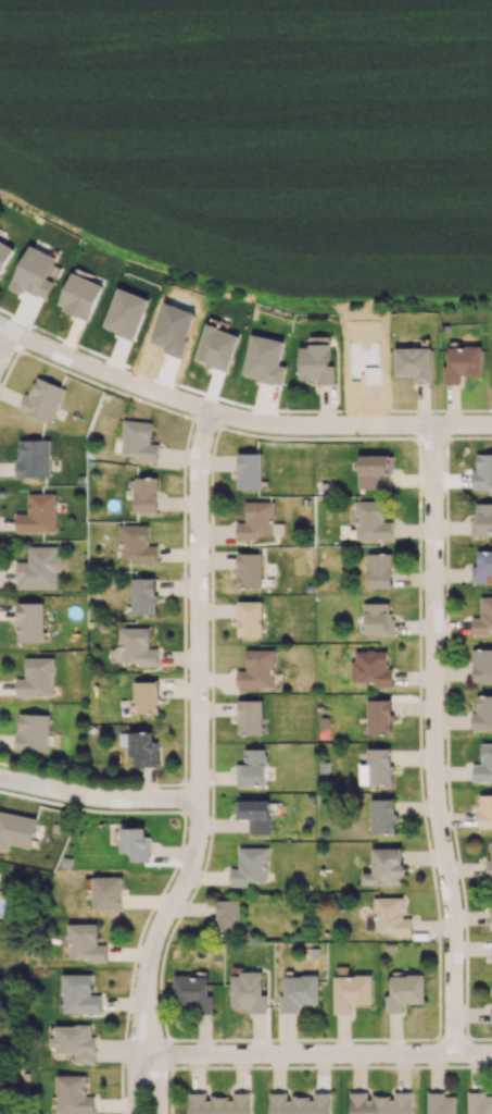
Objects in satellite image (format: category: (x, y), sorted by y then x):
building: (4, 253)
building: (34, 272)
building: (79, 295)
building: (129, 308)
building: (216, 347)
road: (9, 348)
building: (264, 359)
building: (316, 361)
building: (414, 363)
building: (462, 363)
building: (42, 399)
road: (236, 420)
building: (138, 440)
building: (34, 458)
building: (374, 469)
building: (249, 471)
building: (482, 472)
building: (146, 494)
building: (38, 513)
building: (481, 519)
building: (255, 520)
building: (370, 521)
building: (136, 543)
building: (482, 567)
building: (38, 568)
building: (249, 569)
building: (379, 570)
building: (143, 595)
building: (249, 618)
building: (376, 618)
building: (483, 618)
building: (30, 621)
building: (136, 646)
building: (482, 665)
building: (371, 667)
building: (256, 669)
building: (36, 678)
building: (146, 696)
building: (482, 713)
building: (379, 716)
building: (250, 717)
building: (33, 731)
road: (198, 738)
road: (431, 740)
building: (140, 747)
building: (483, 765)
building: (379, 766)
building: (252, 768)
road: (97, 799)
building: (485, 810)
building: (254, 814)
building: (382, 815)
building: (16, 830)
building: (135, 842)
building: (250, 866)
building: (384, 867)
building: (106, 892)
building: (491, 915)
building: (391, 916)
building: (228, 917)
building: (86, 942)
building: (250, 991)
building: (299, 991)
building: (351, 991)
building: (404, 991)
building: (192, 992)
building: (79, 994)
building: (491, 1015)
building: (75, 1042)
road: (319, 1052)
road: (136, 1081)
road: (159, 1081)
building: (73, 1096)
building: (218, 1103)
building: (300, 1103)
building: (380, 1103)
building: (479, 1103)

